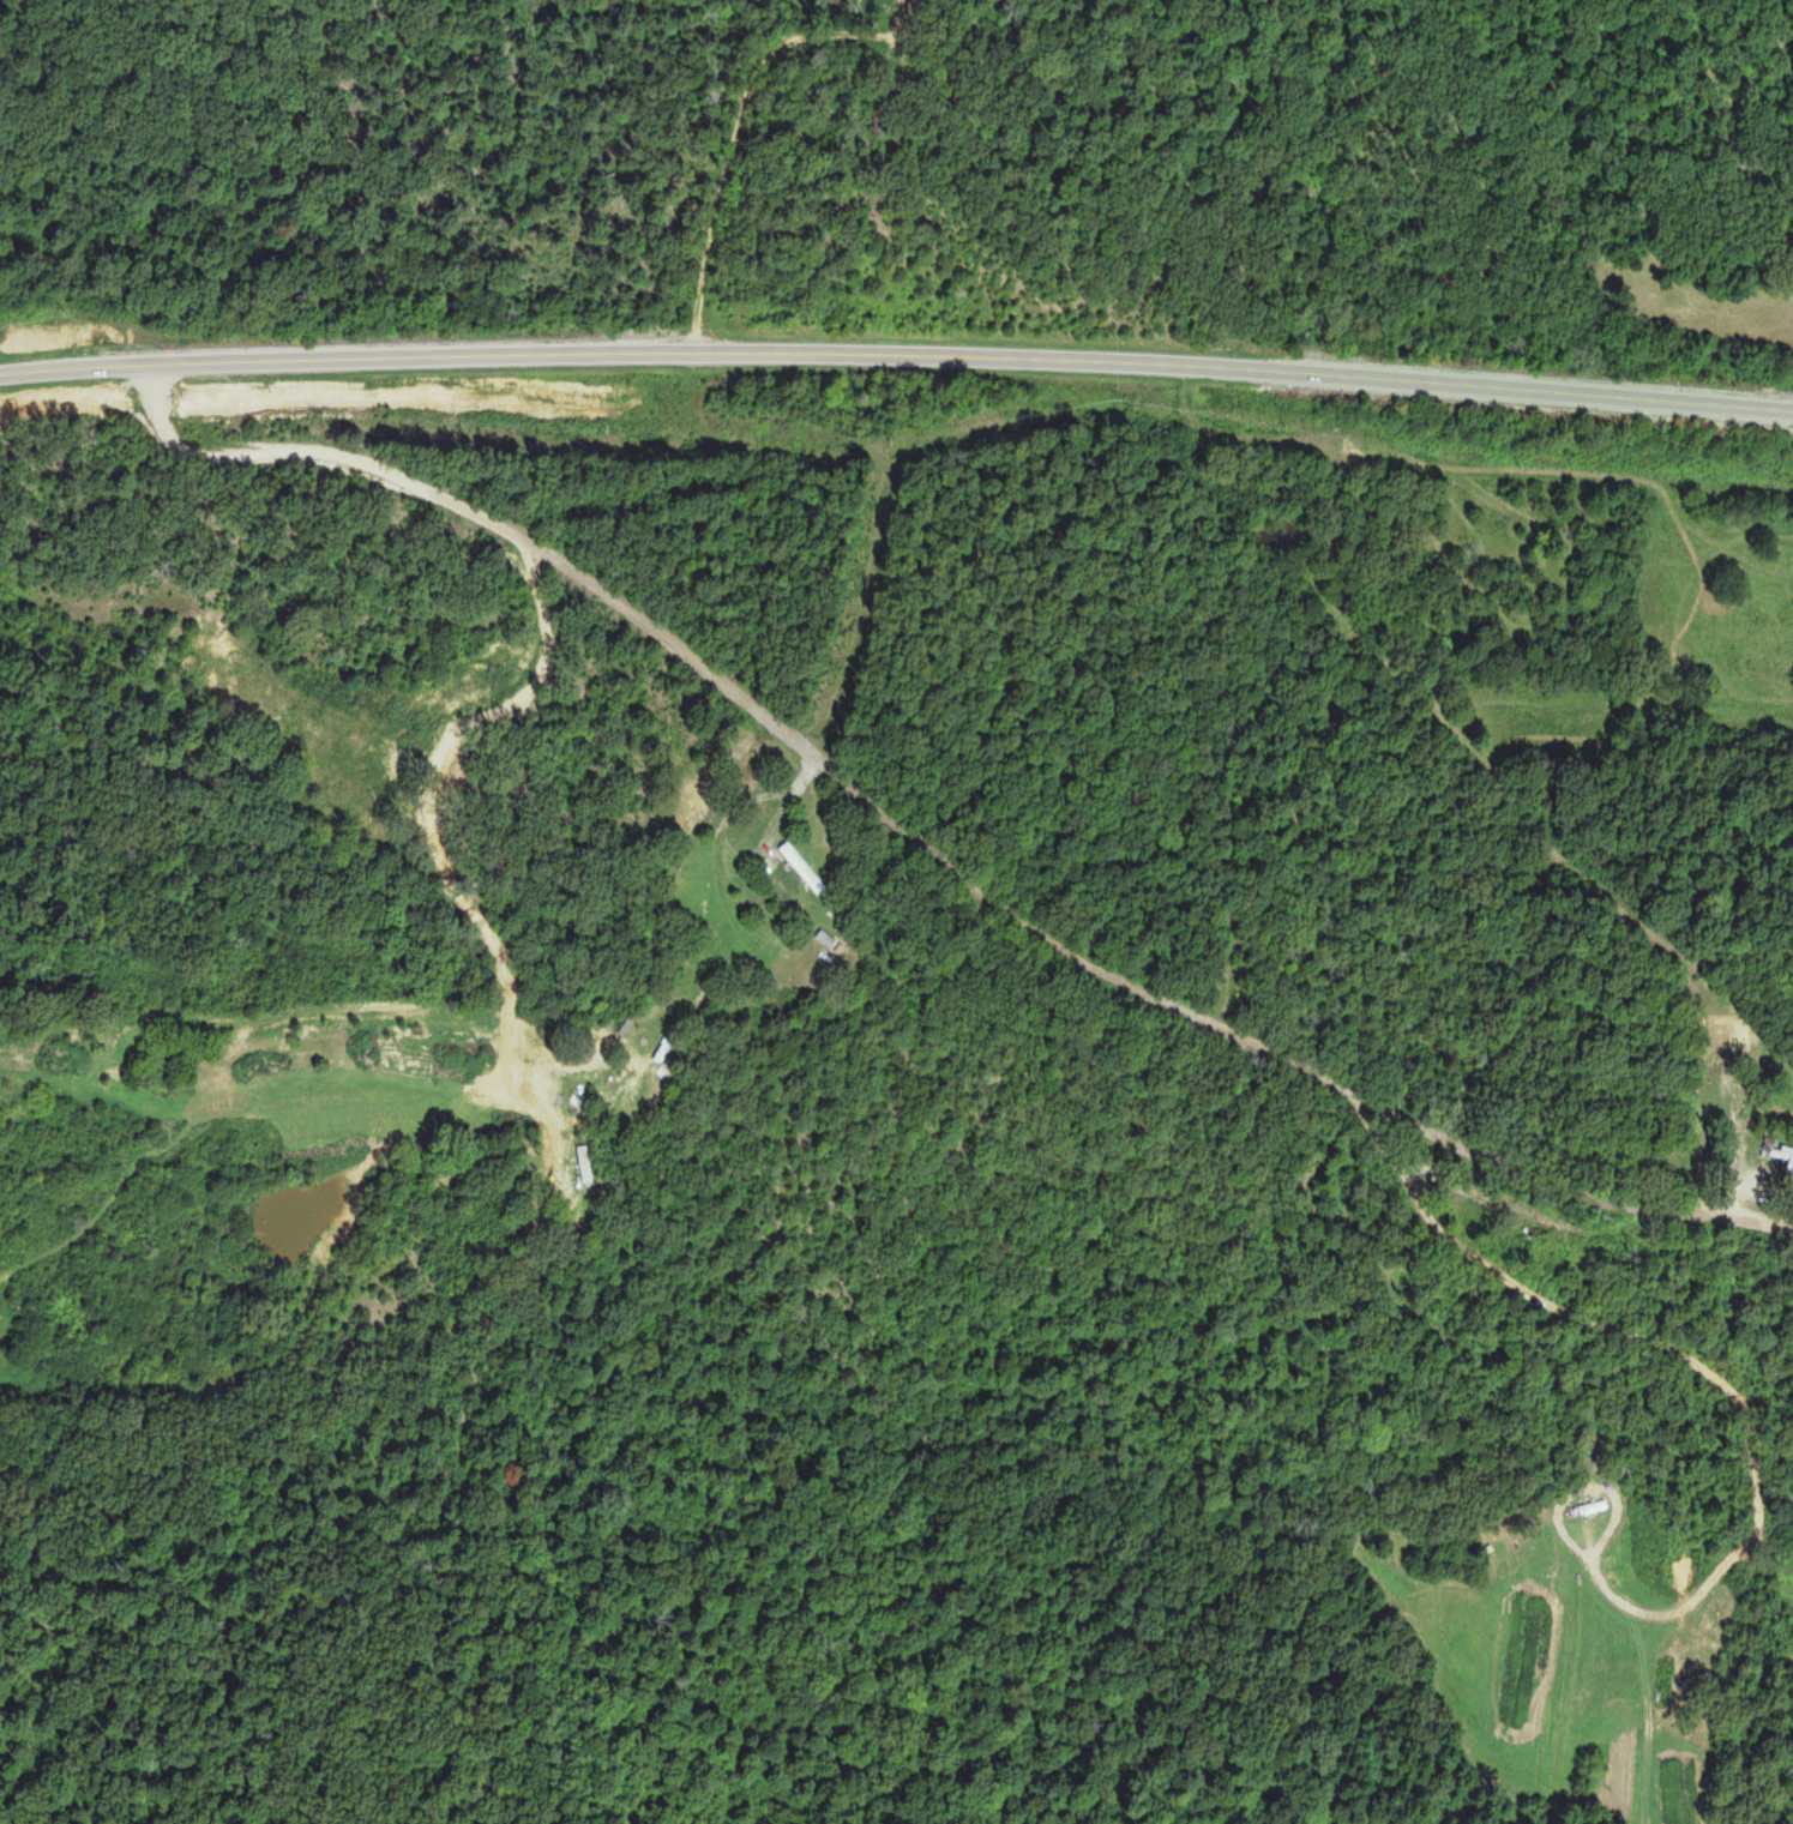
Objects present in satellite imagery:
road: (759, 73)
road: (897, 357)
road: (870, 603)
road: (927, 845)
building: (805, 869)

